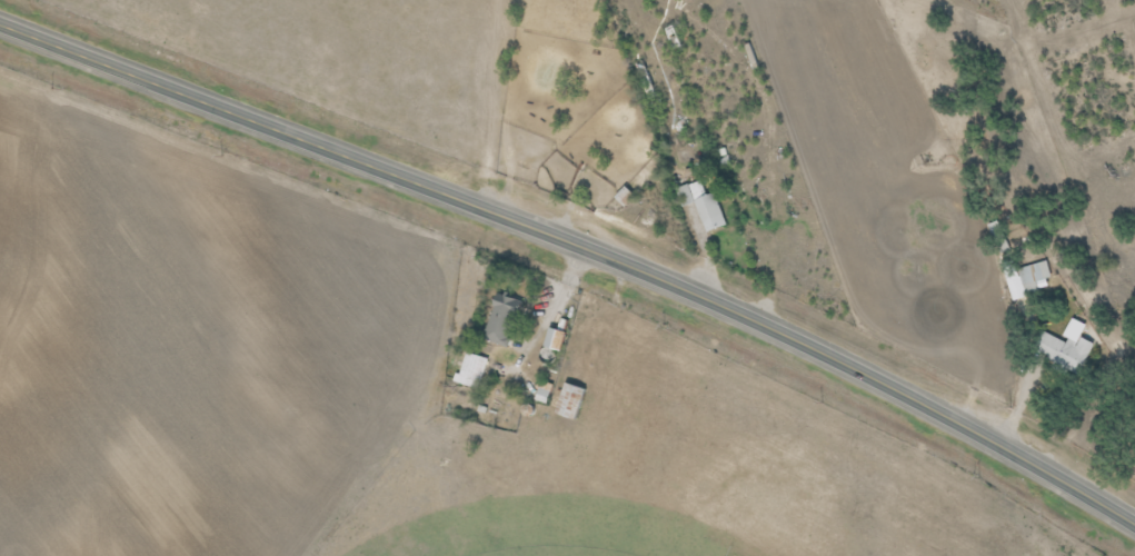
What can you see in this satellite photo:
building: (644, 80)
building: (700, 206)
building: (997, 238)
road: (579, 246)
building: (1031, 279)
railway: (573, 285)
building: (500, 320)
building: (551, 340)
building: (1062, 351)
building: (470, 371)
building: (541, 394)
building: (567, 401)

